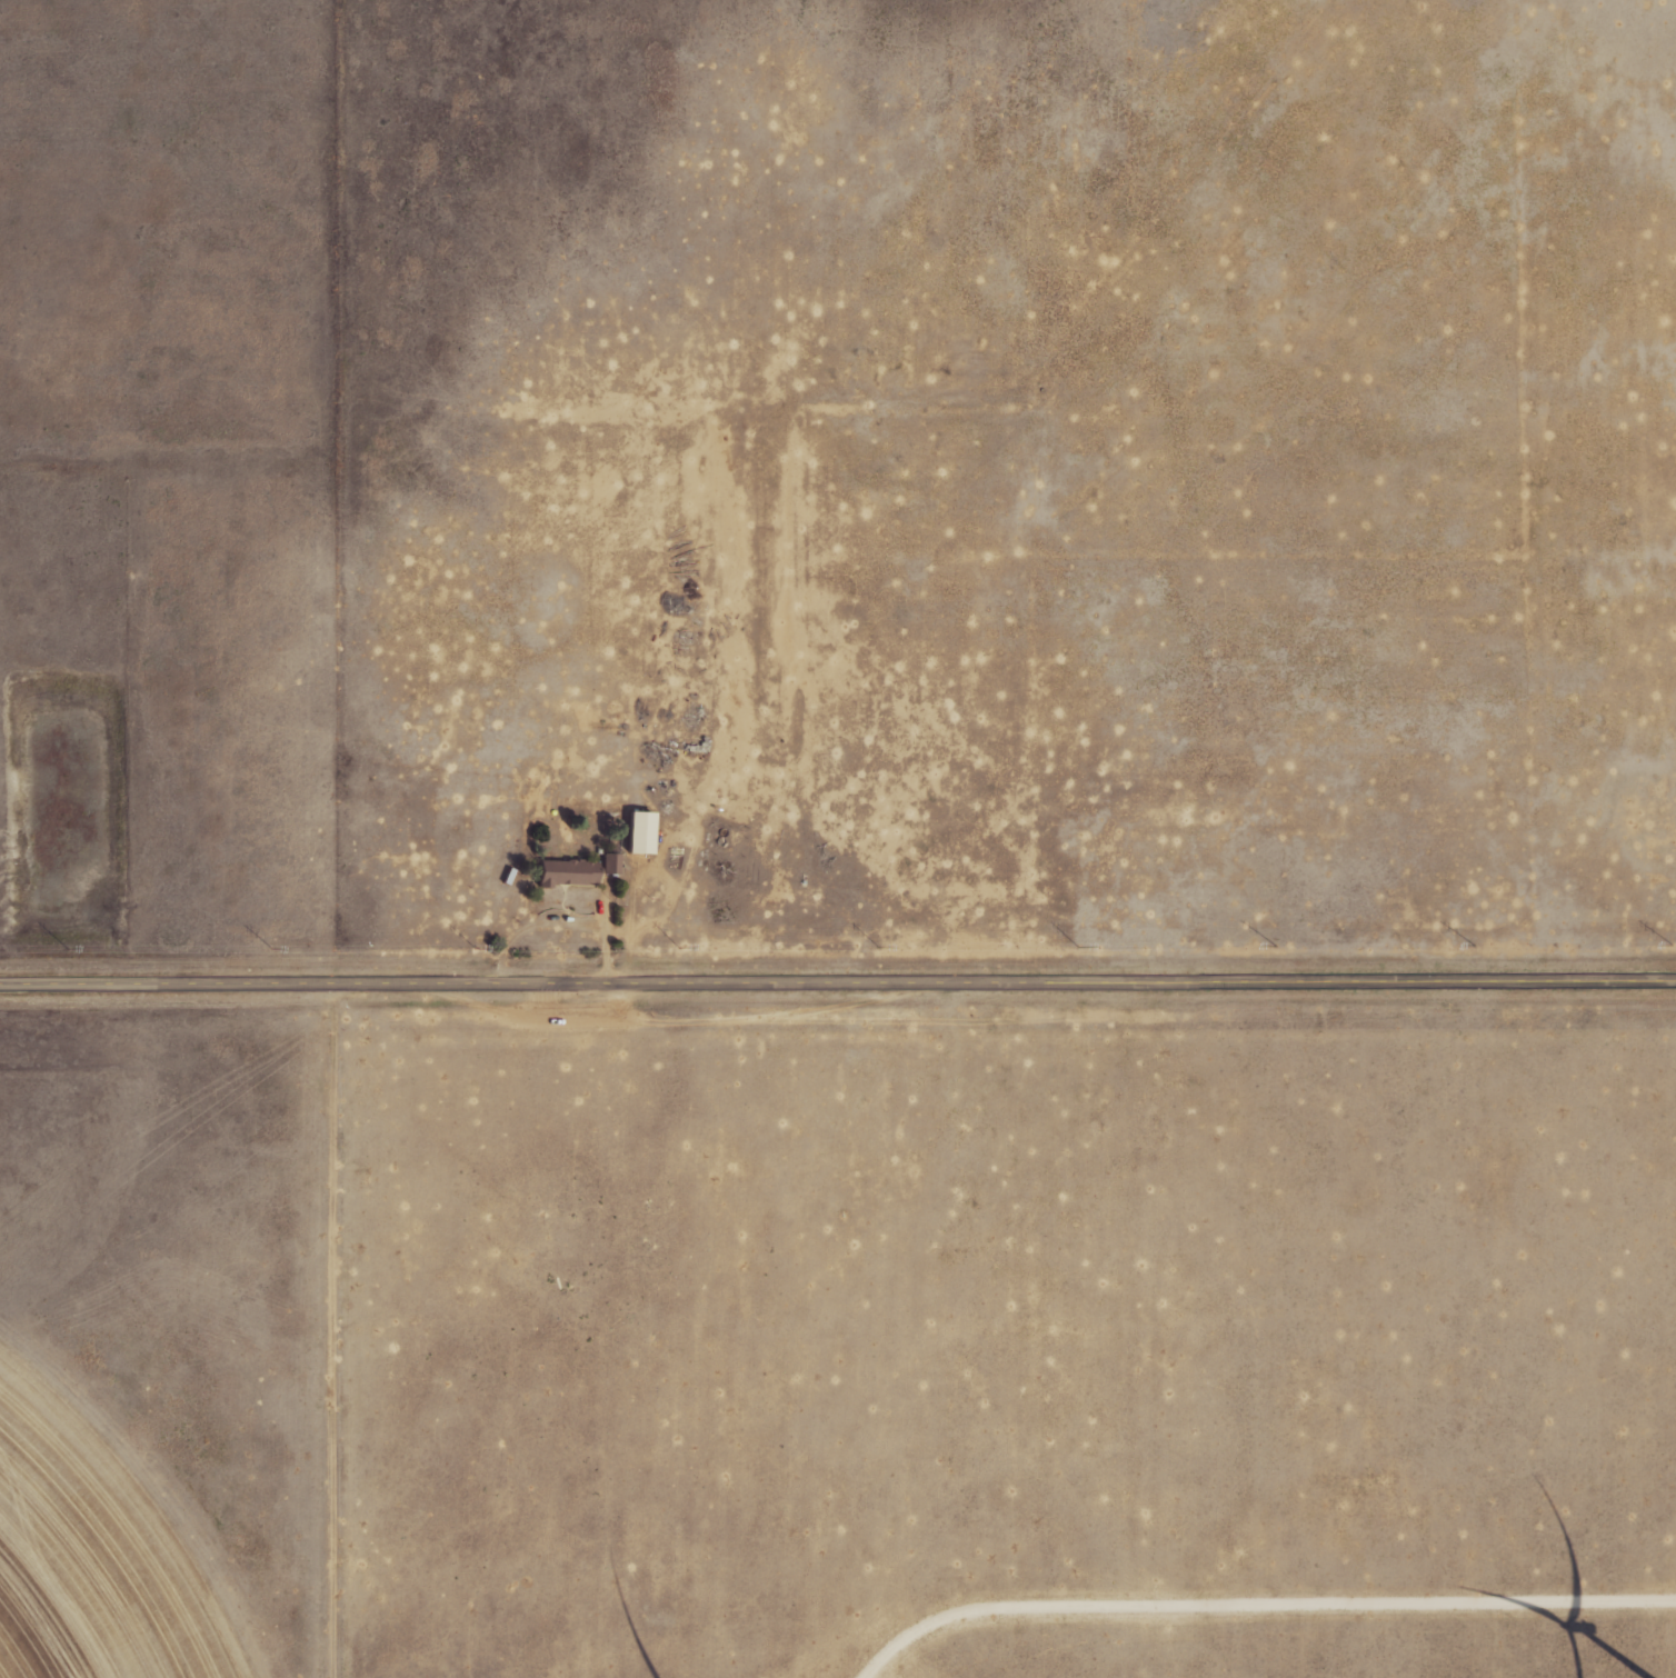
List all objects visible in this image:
building: (613, 863)
building: (570, 871)
road: (533, 925)
road: (606, 933)
road: (837, 983)

